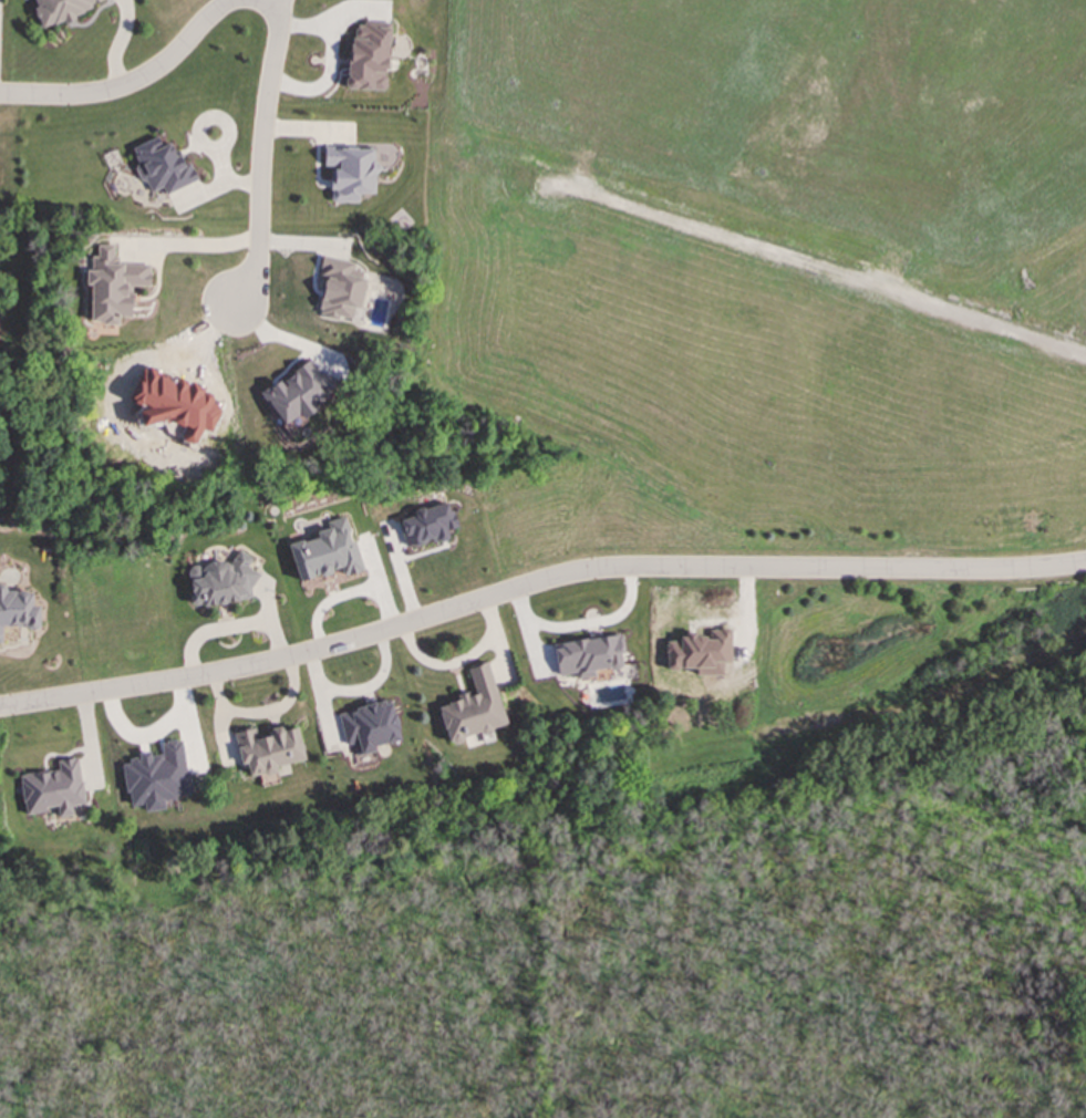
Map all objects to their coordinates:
building: (62, 8)
building: (368, 55)
road: (134, 83)
road: (261, 157)
building: (162, 165)
building: (351, 170)
road: (196, 244)
road: (755, 247)
building: (112, 284)
building: (339, 288)
building: (297, 391)
building: (426, 524)
building: (327, 551)
road: (536, 579)
building: (221, 580)
building: (17, 609)
building: (699, 651)
building: (587, 655)
road: (459, 659)
building: (473, 707)
building: (368, 725)
building: (268, 748)
building: (156, 776)
building: (52, 788)

